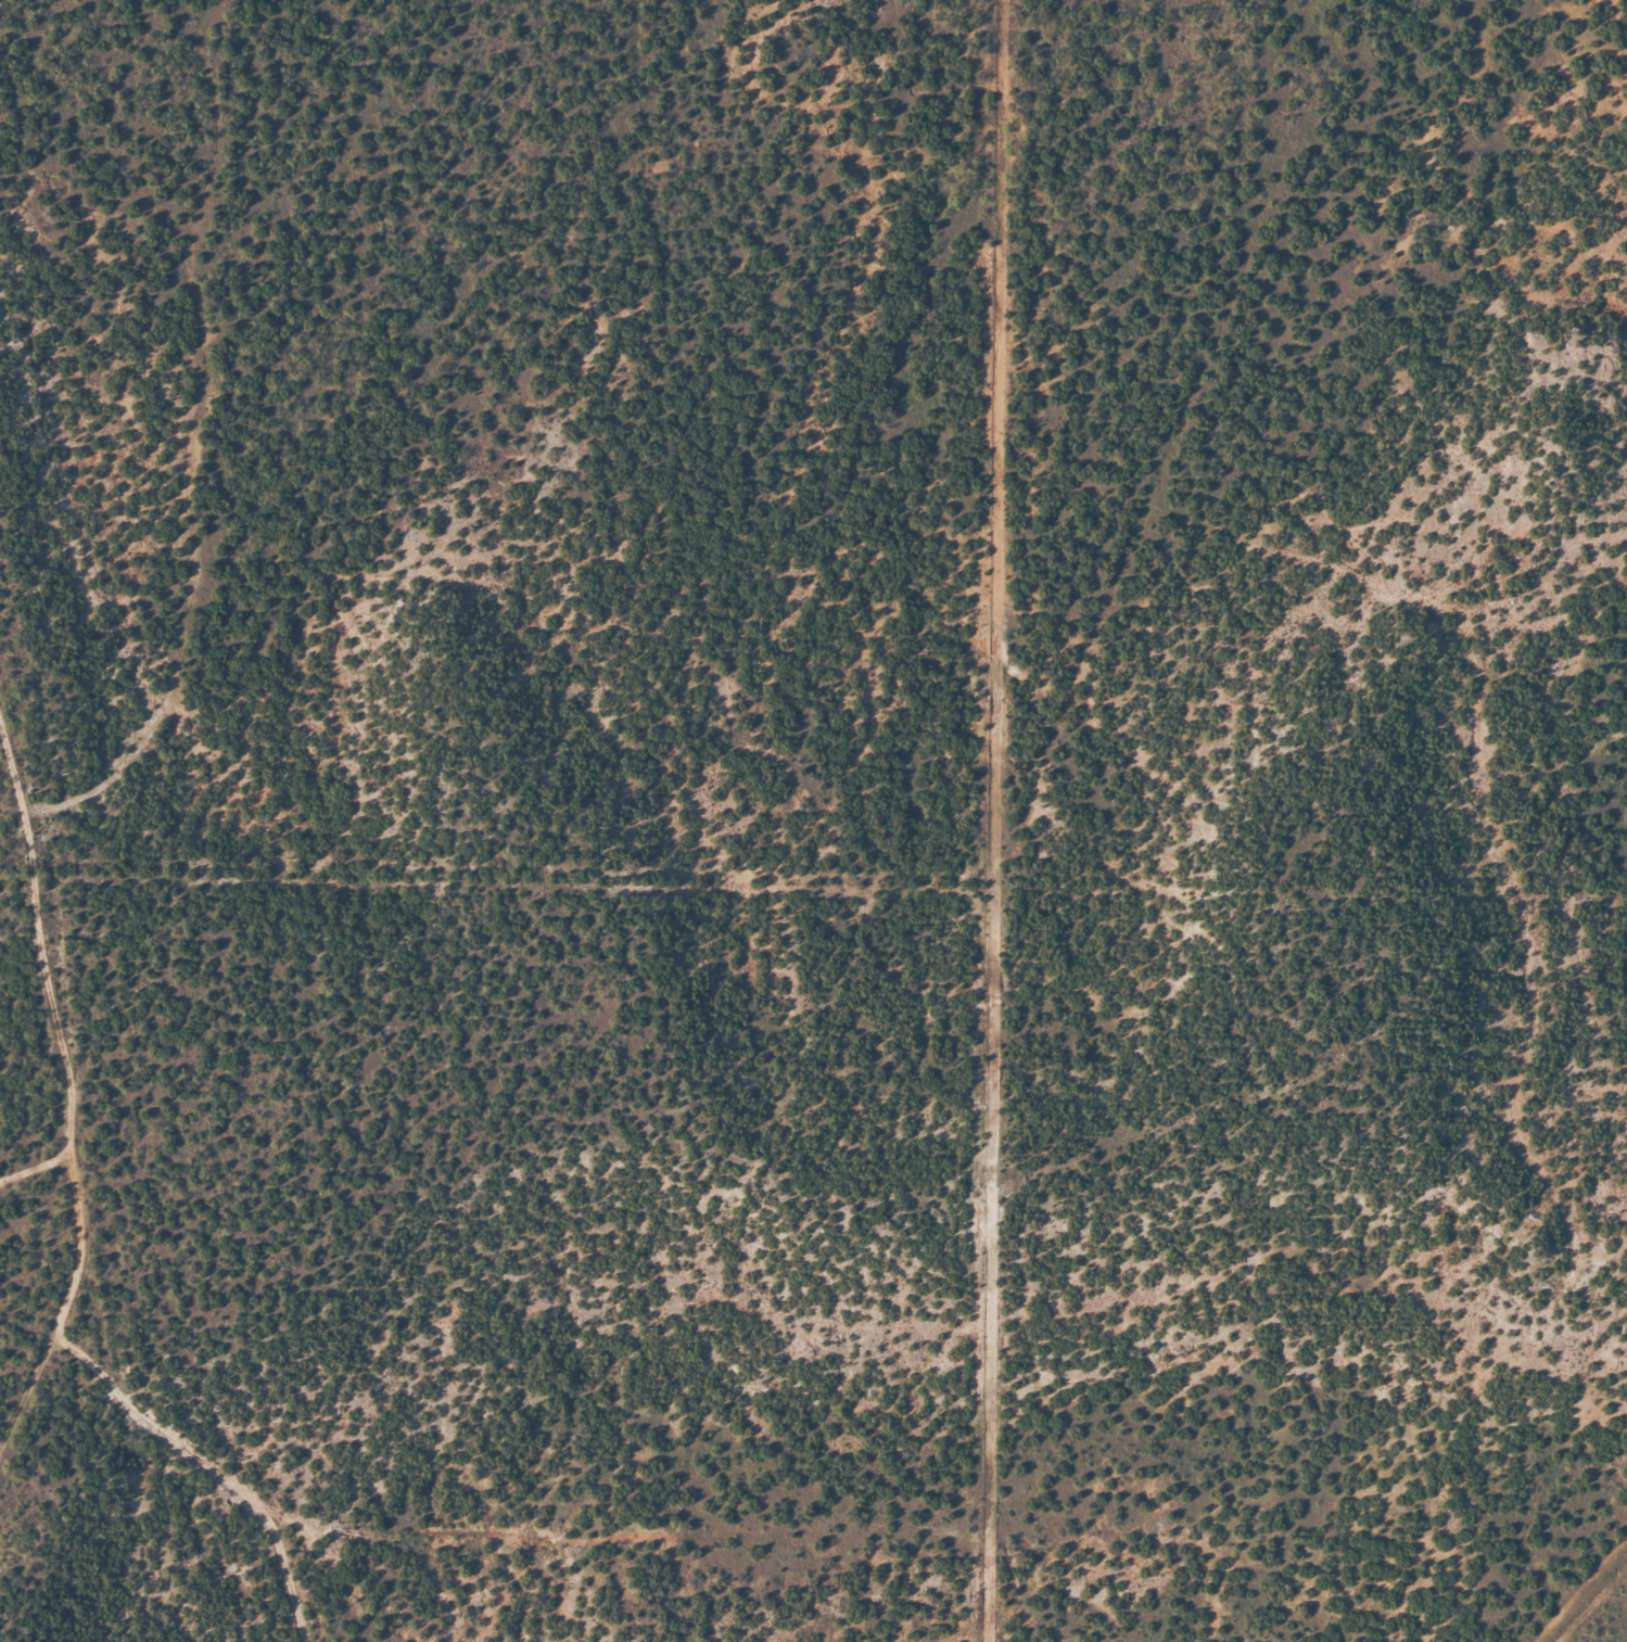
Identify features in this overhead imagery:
road: (97, 850)

